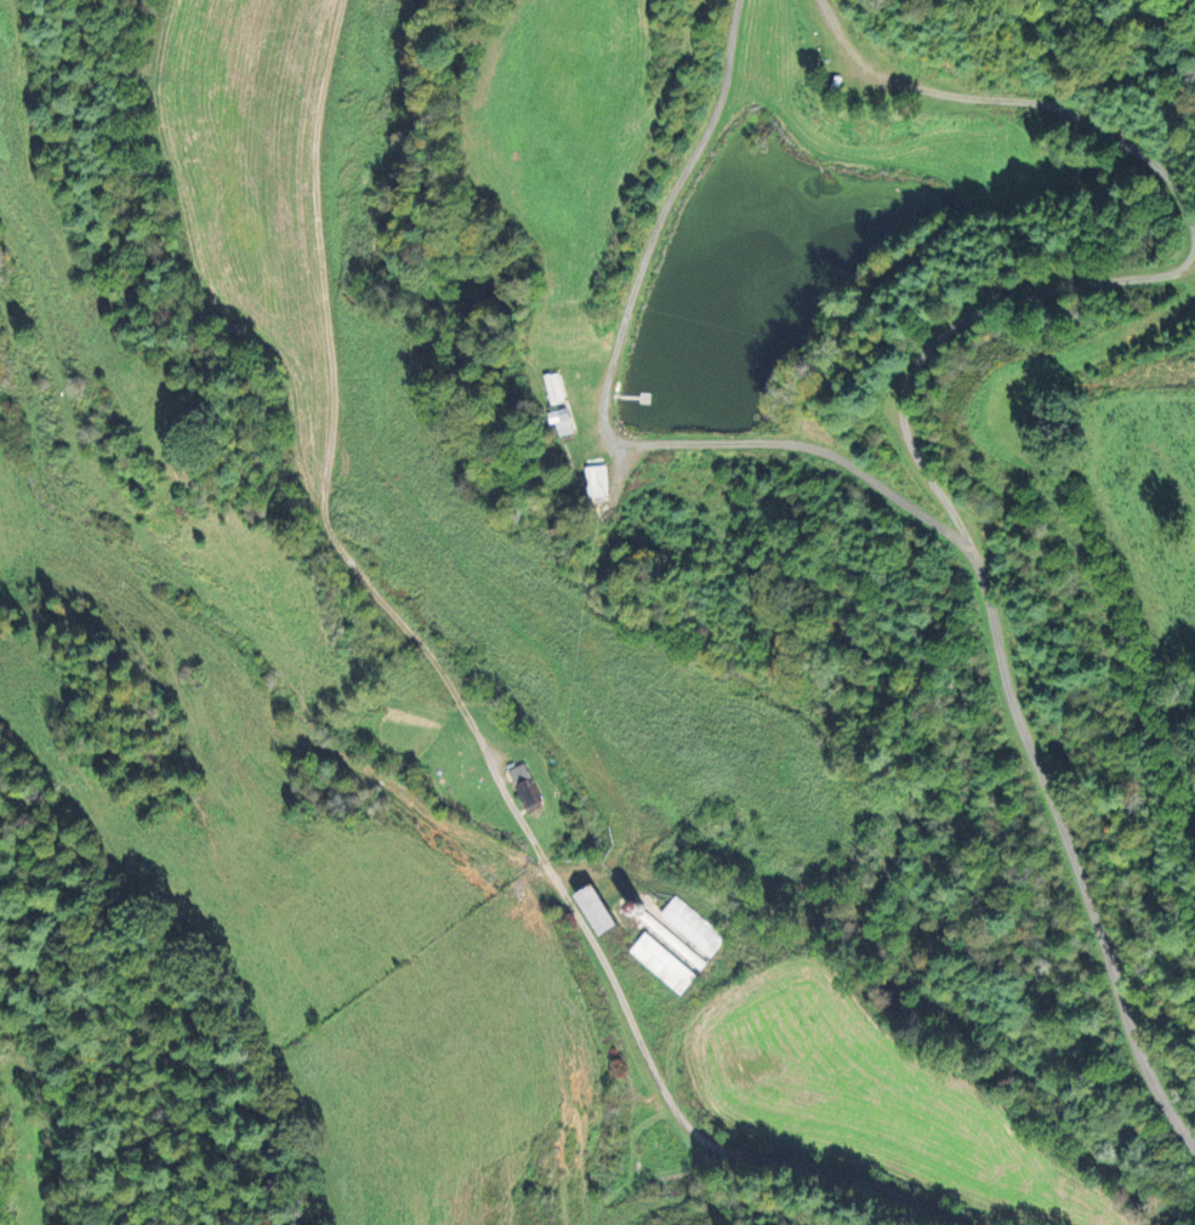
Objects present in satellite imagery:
road: (1023, 104)
road: (622, 377)
building: (556, 388)
building: (564, 421)
road: (990, 608)
road: (467, 712)
building: (527, 786)
building: (601, 911)
building: (694, 927)
building: (662, 963)

